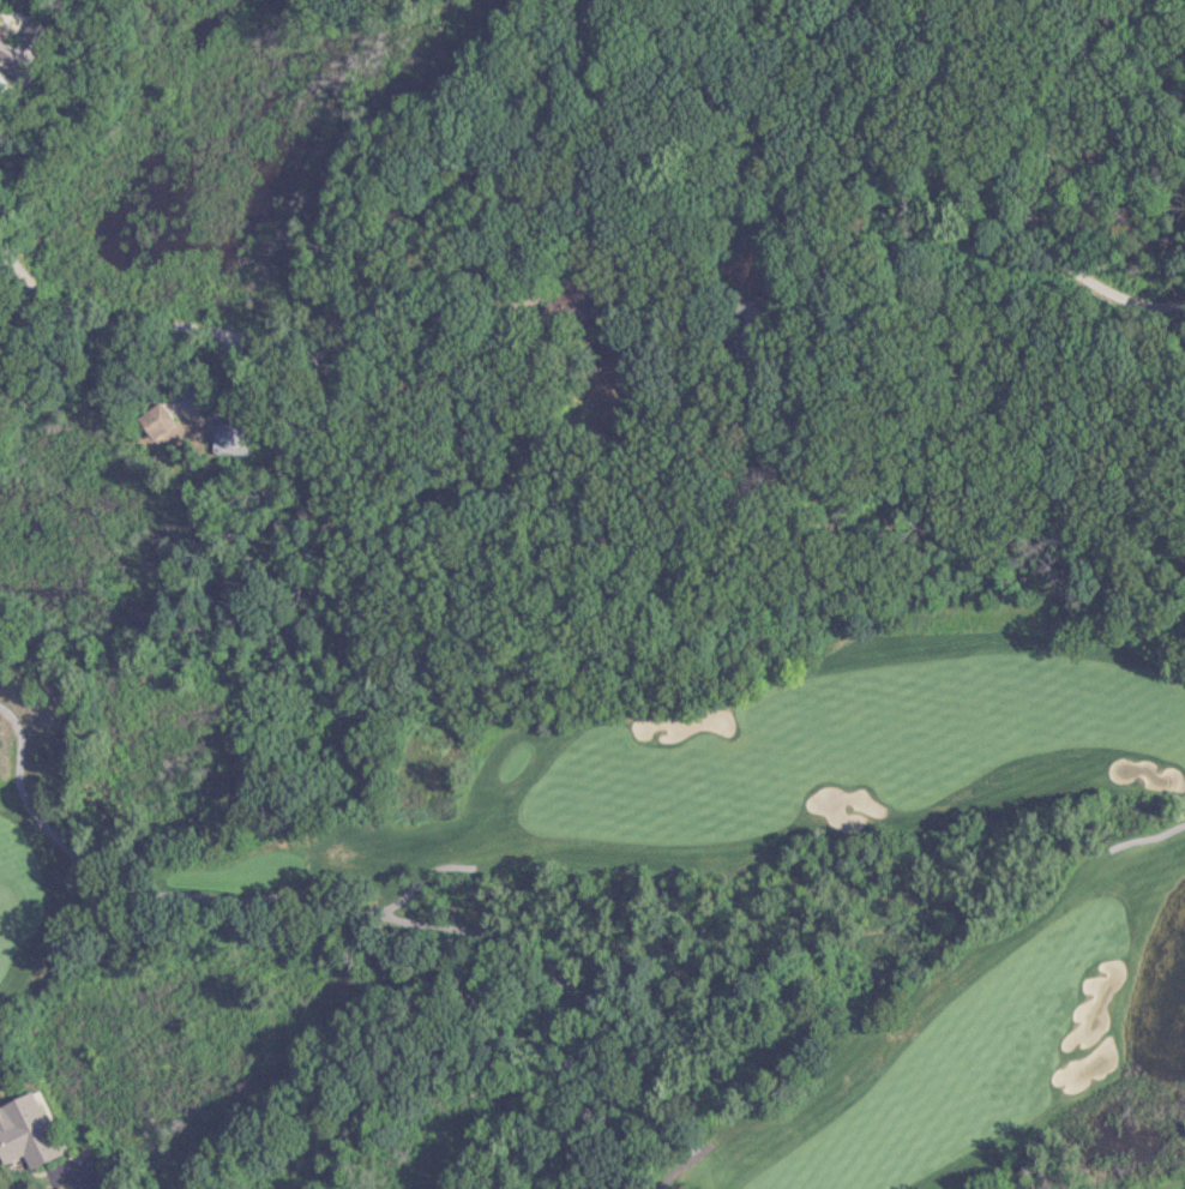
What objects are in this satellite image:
building: (1, 42)
road: (1010, 211)
building: (757, 310)
road: (402, 313)
road: (1173, 662)
road: (14, 729)
road: (1148, 839)
road: (414, 883)
park: (589, 897)
road: (363, 918)
building: (24, 1134)
road: (679, 1166)
road: (72, 1181)
building: (55, 1188)

